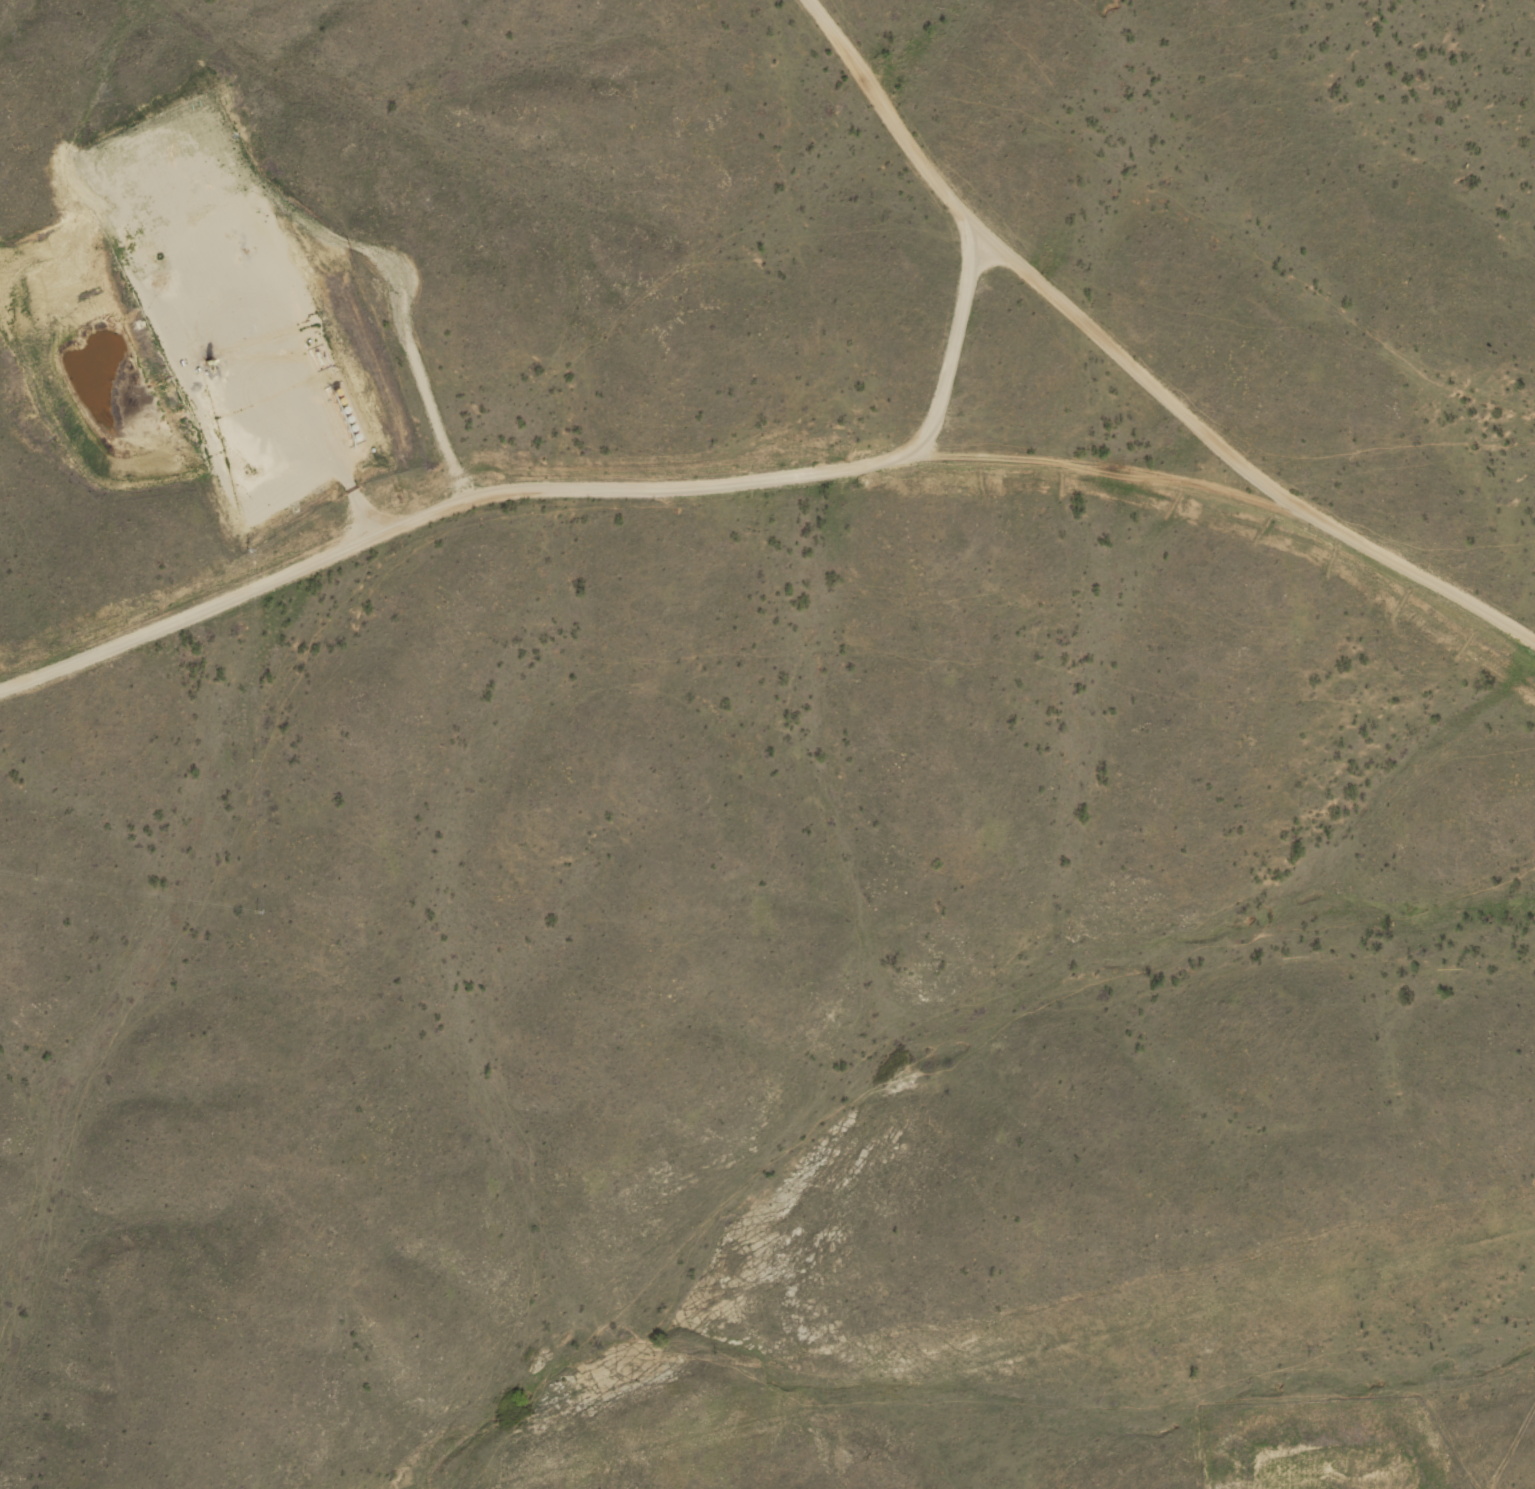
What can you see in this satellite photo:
road: (1156, 342)
road: (625, 495)

